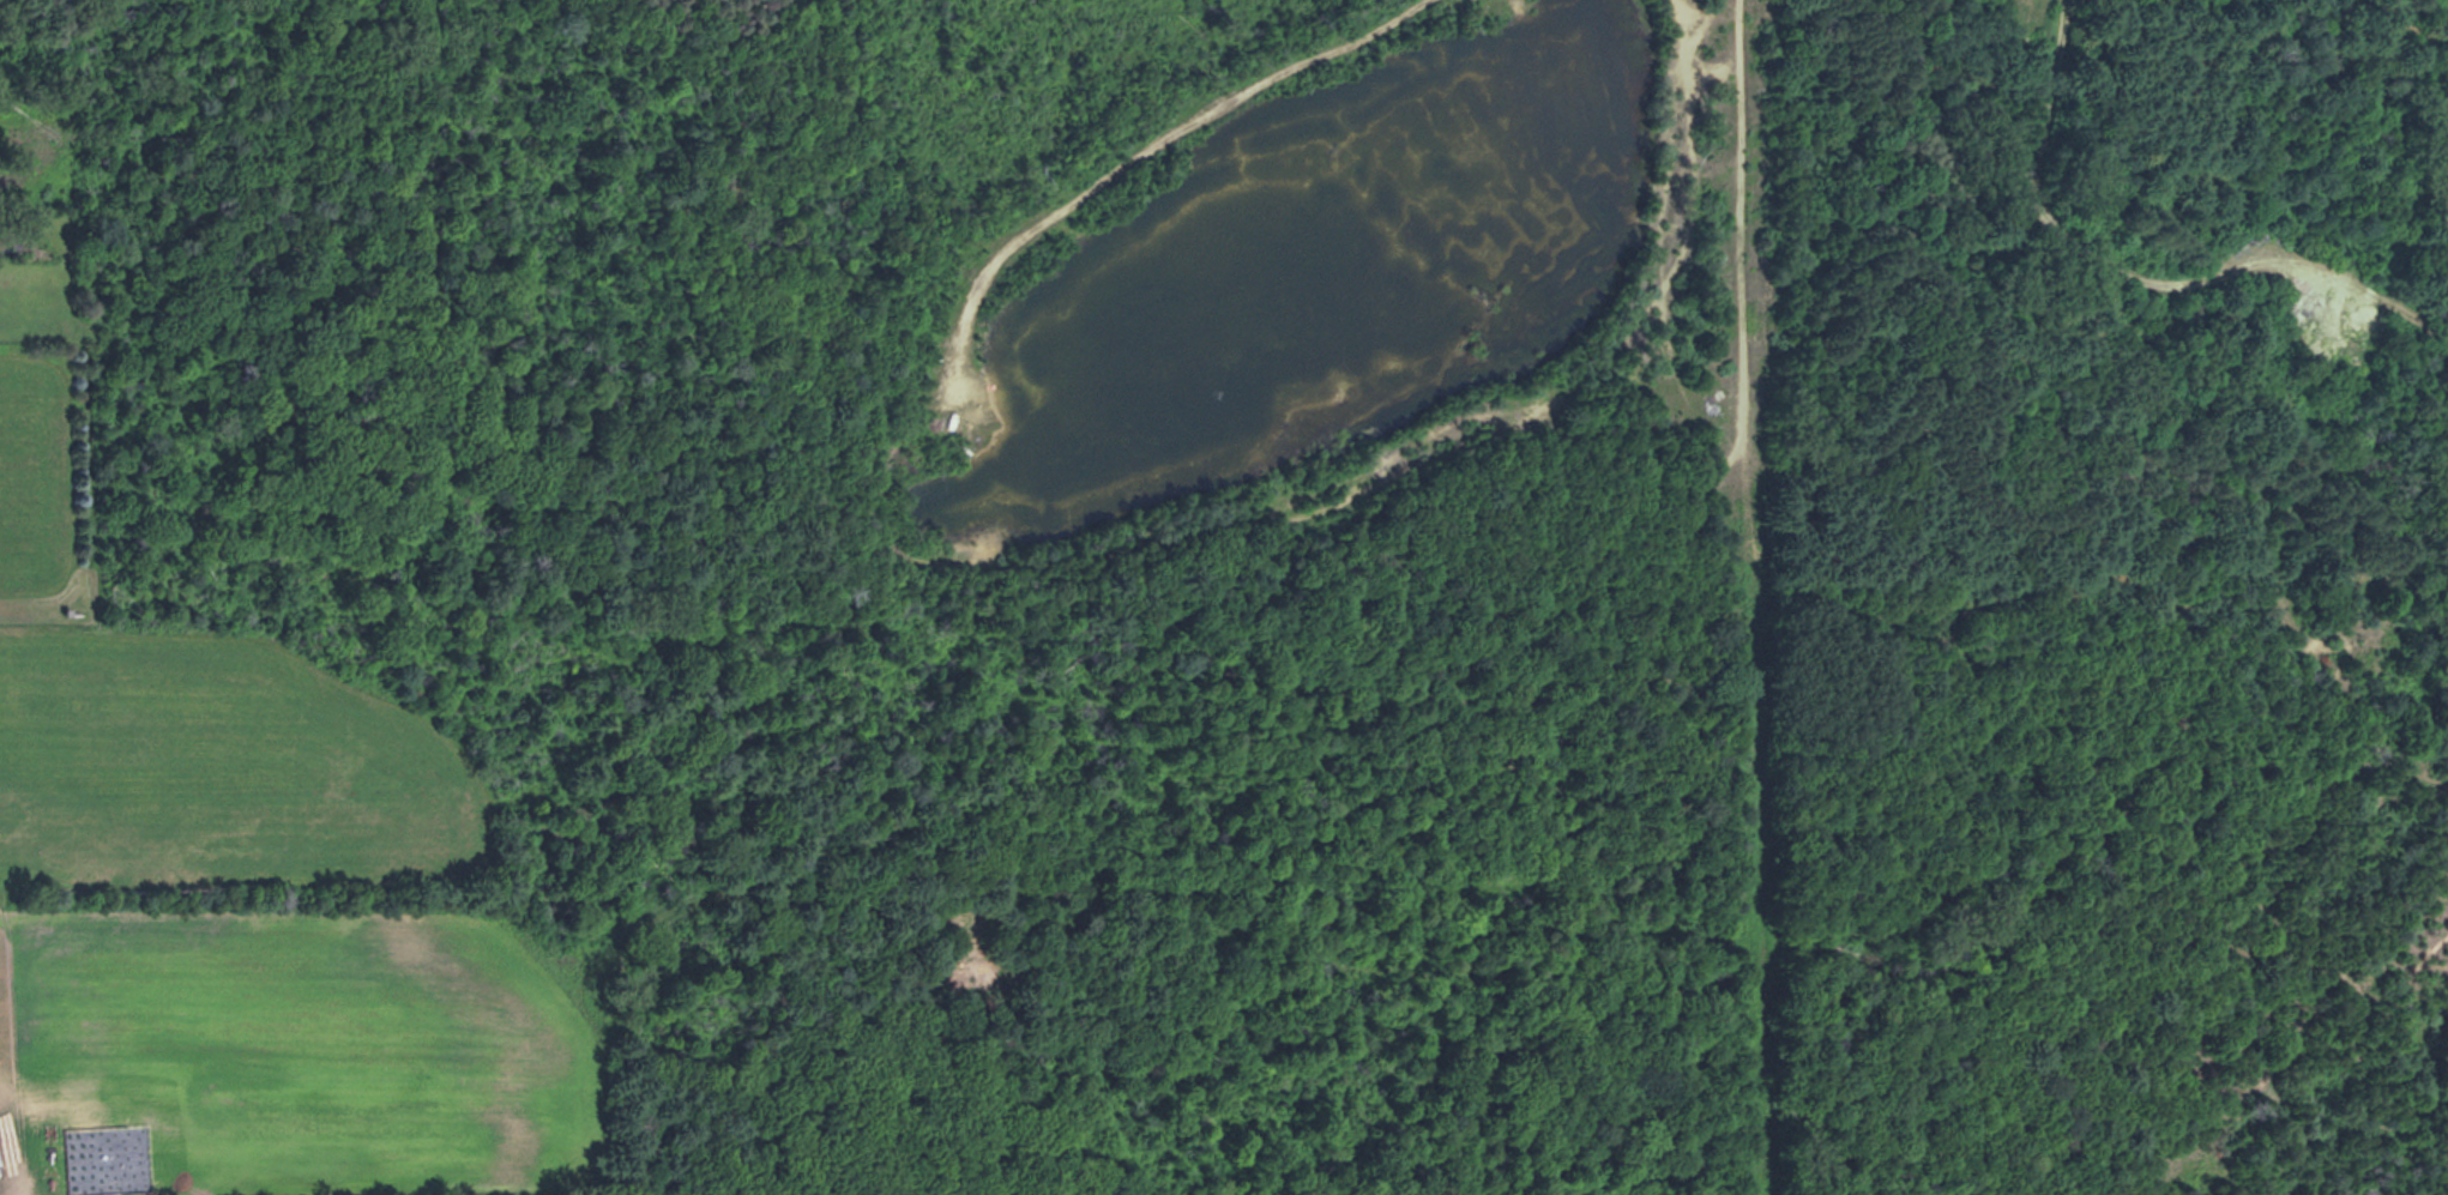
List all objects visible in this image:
road: (2007, 193)

